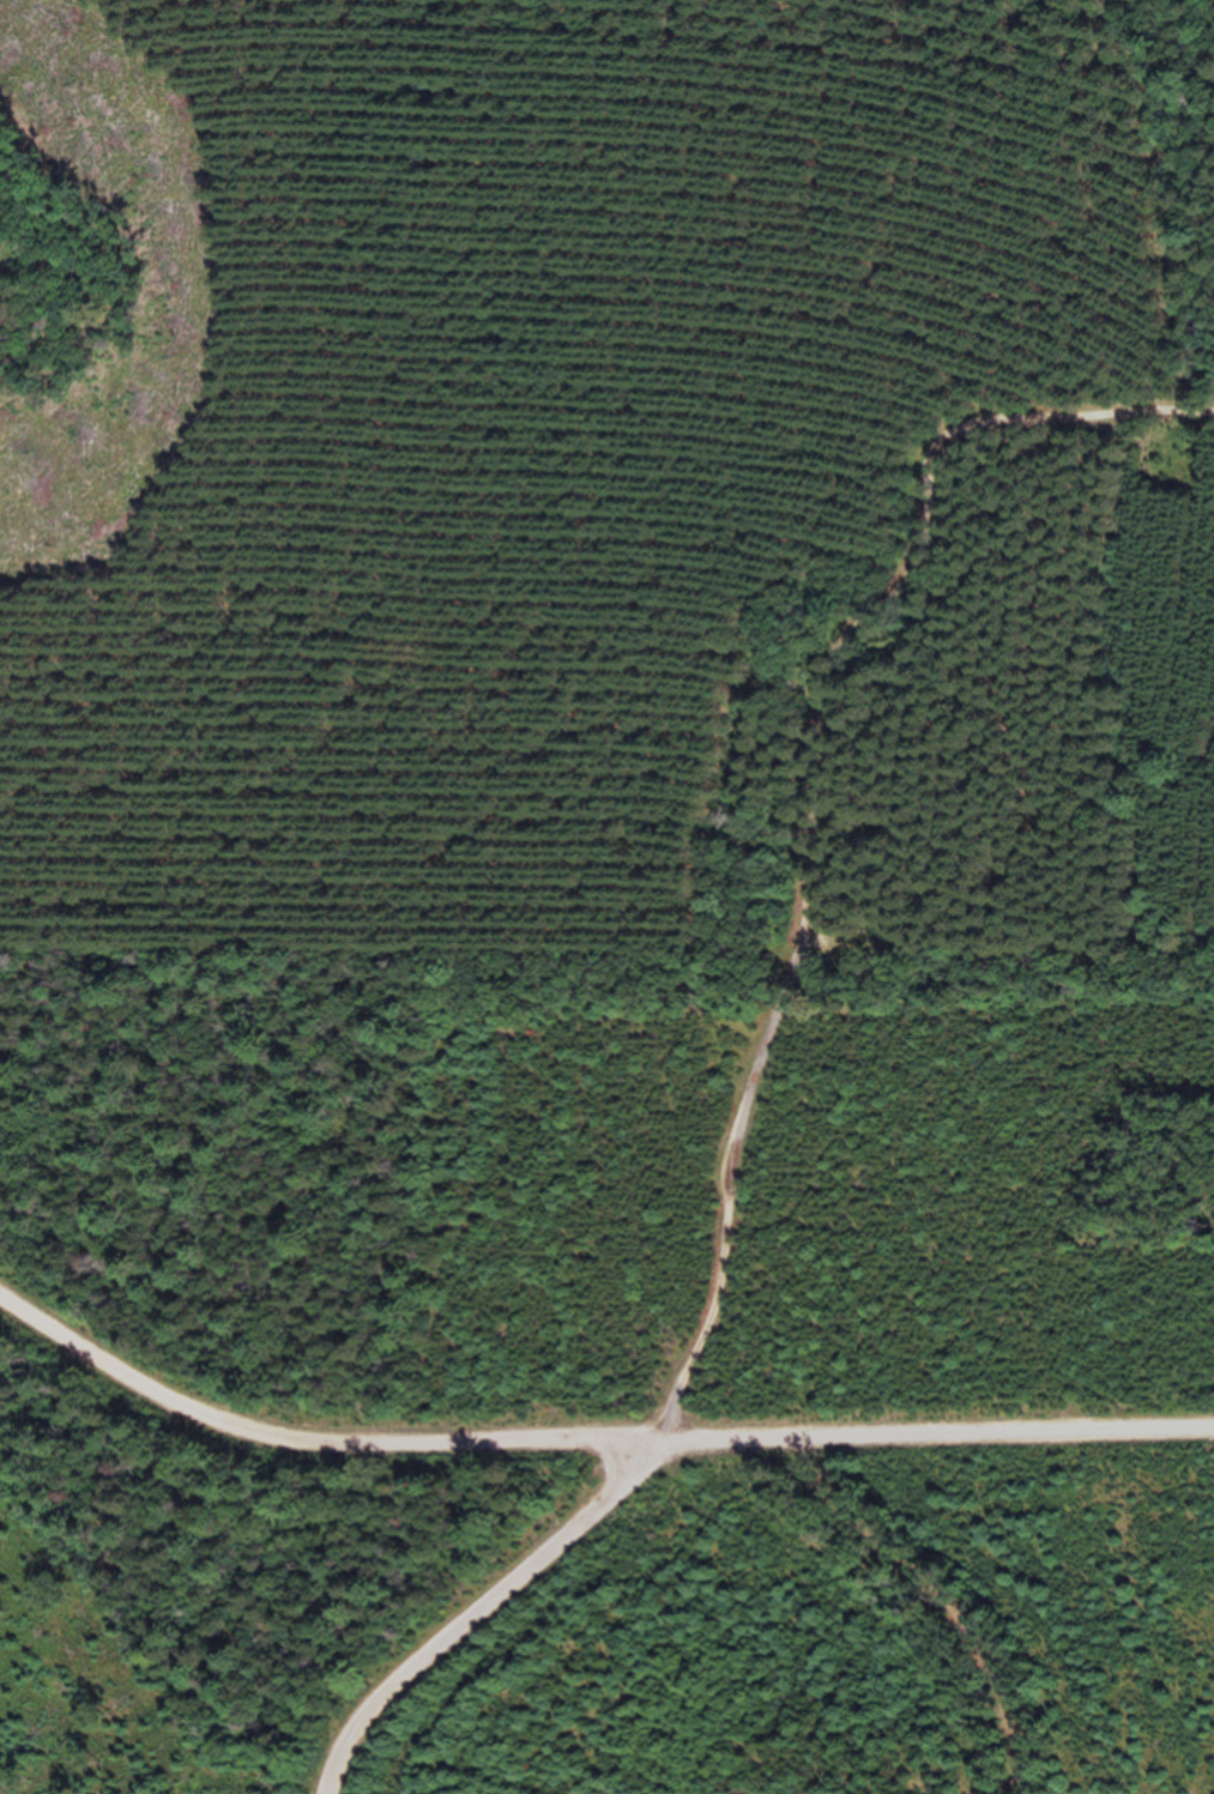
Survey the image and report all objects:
road: (588, 1444)
road: (485, 1612)

